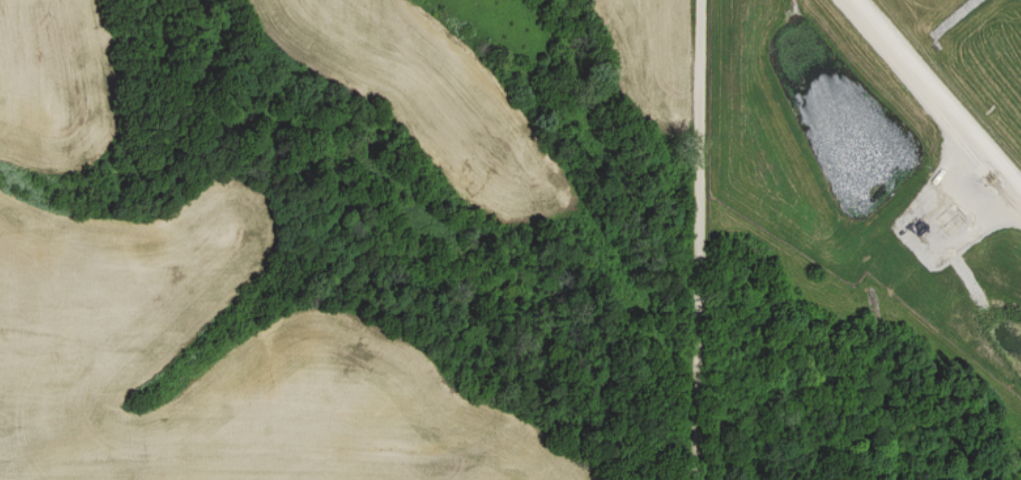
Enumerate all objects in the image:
road: (697, 240)

